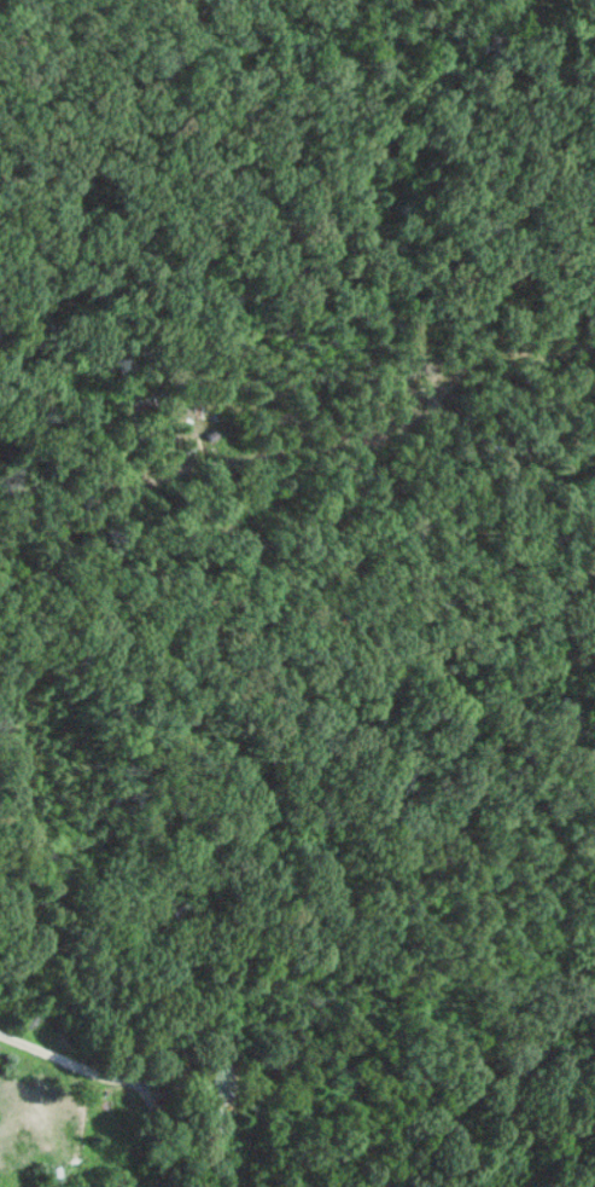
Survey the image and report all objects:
road: (89, 1065)
building: (217, 1079)
building: (200, 1083)

